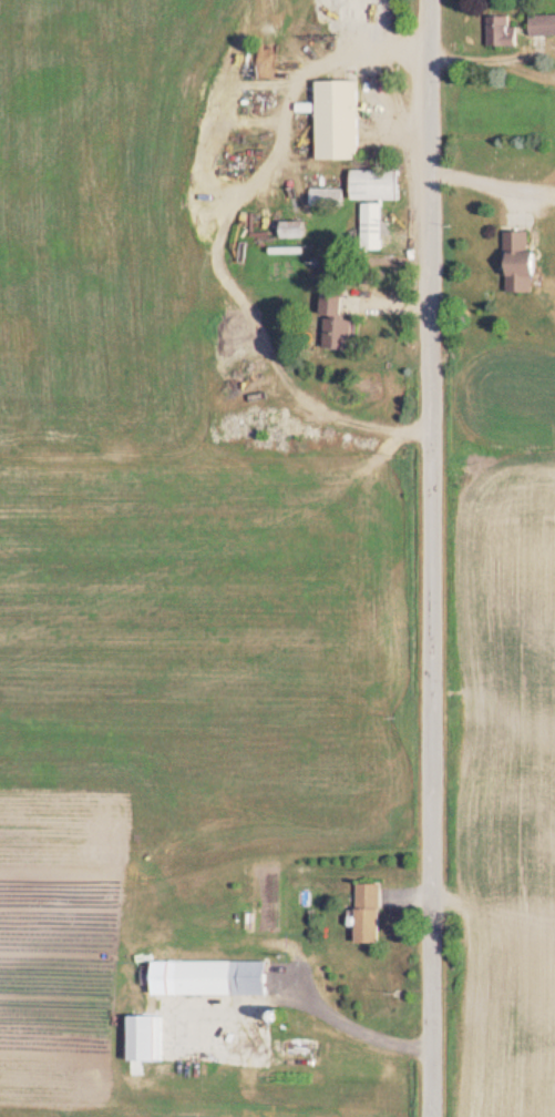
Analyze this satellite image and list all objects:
road: (384, 27)
building: (544, 28)
building: (505, 33)
road: (487, 64)
building: (343, 123)
road: (486, 185)
building: (380, 189)
building: (377, 231)
building: (300, 233)
road: (216, 240)
building: (525, 266)
building: (343, 326)
road: (420, 558)
building: (374, 916)
building: (216, 982)
road: (346, 1020)
building: (152, 1042)

